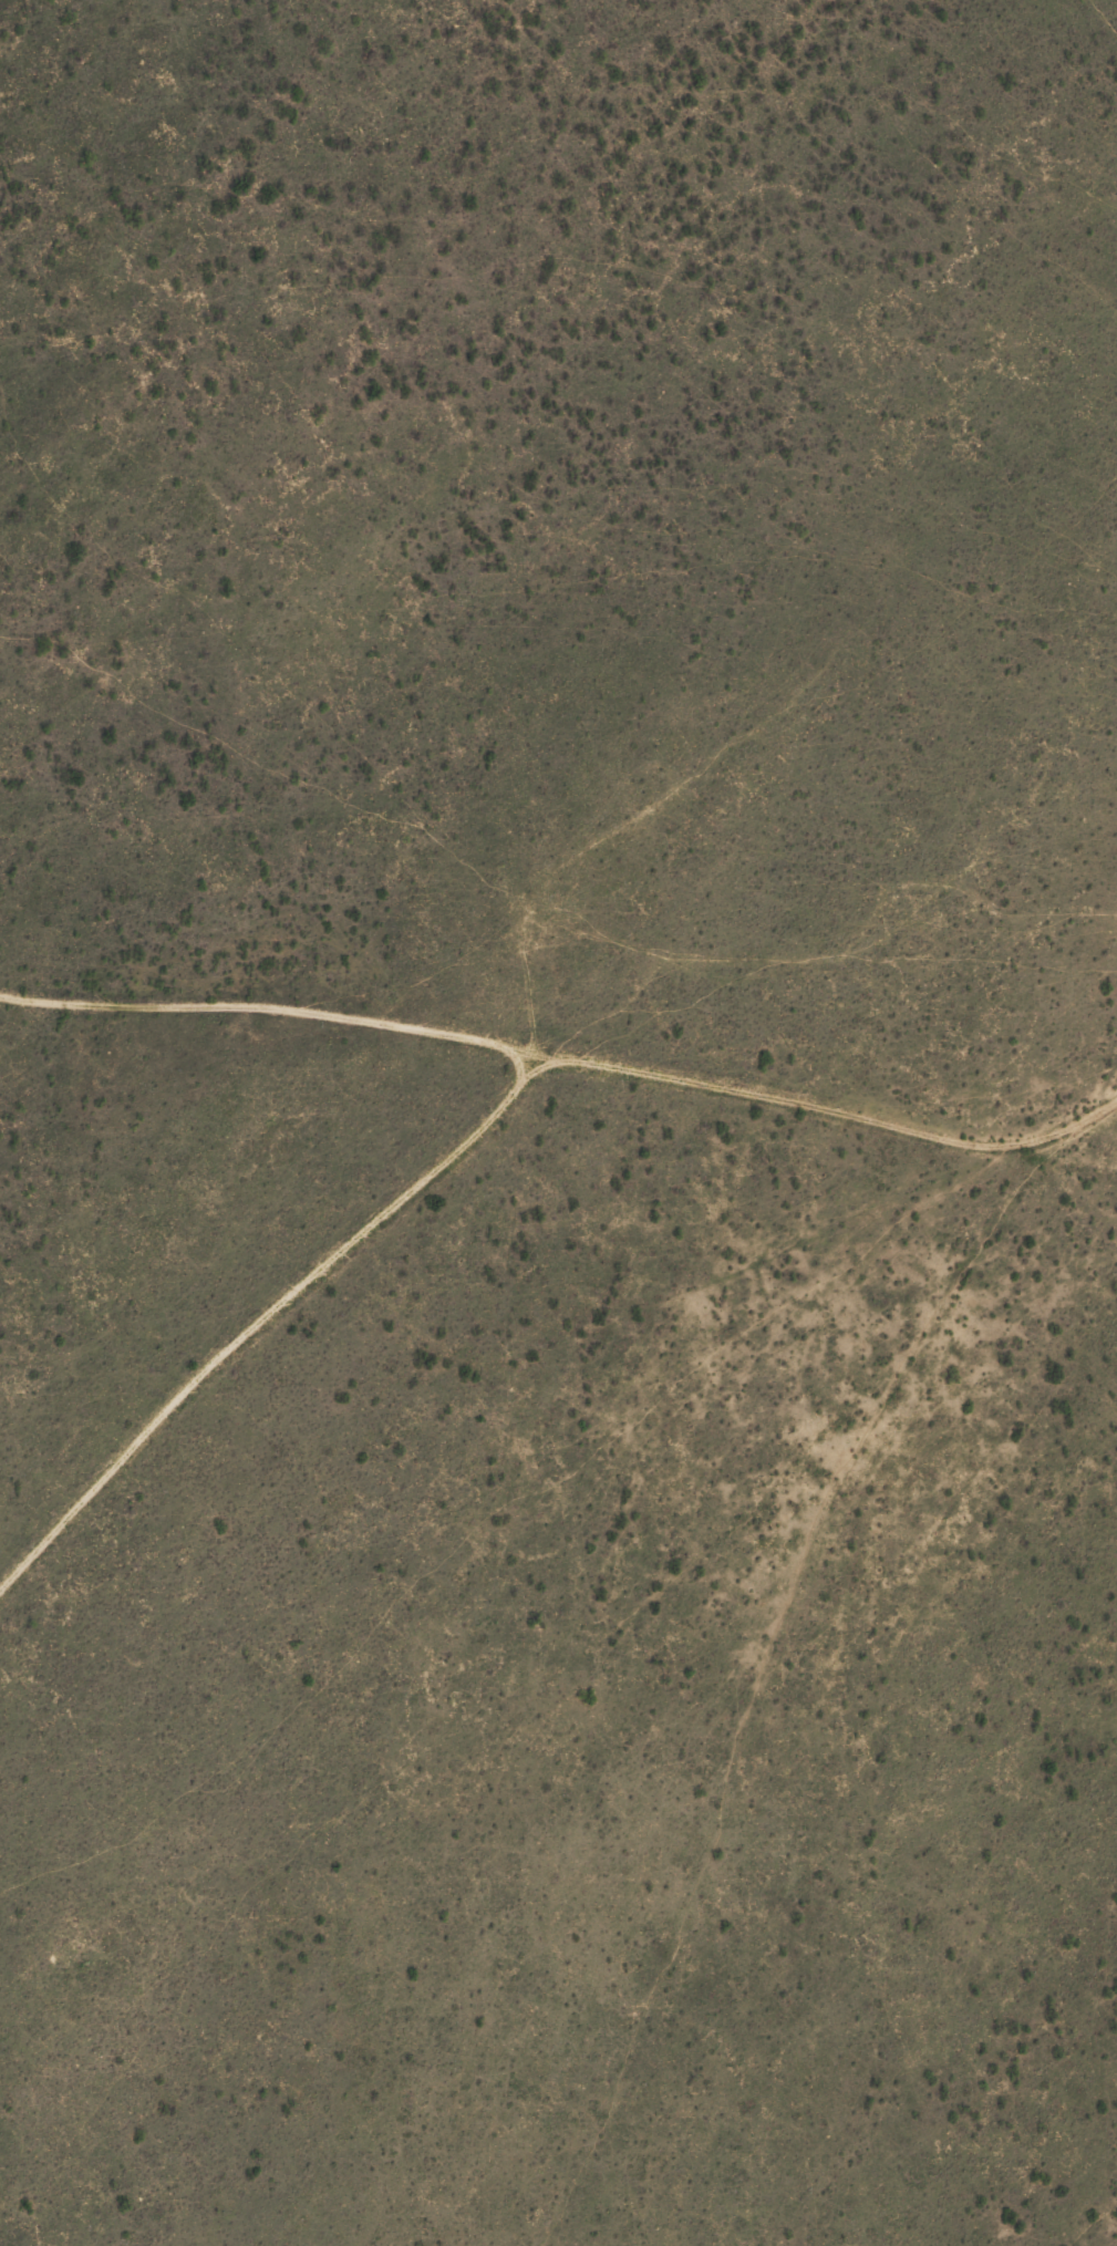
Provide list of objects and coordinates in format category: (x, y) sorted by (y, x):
road: (259, 1032)
road: (814, 1108)
road: (249, 1339)

